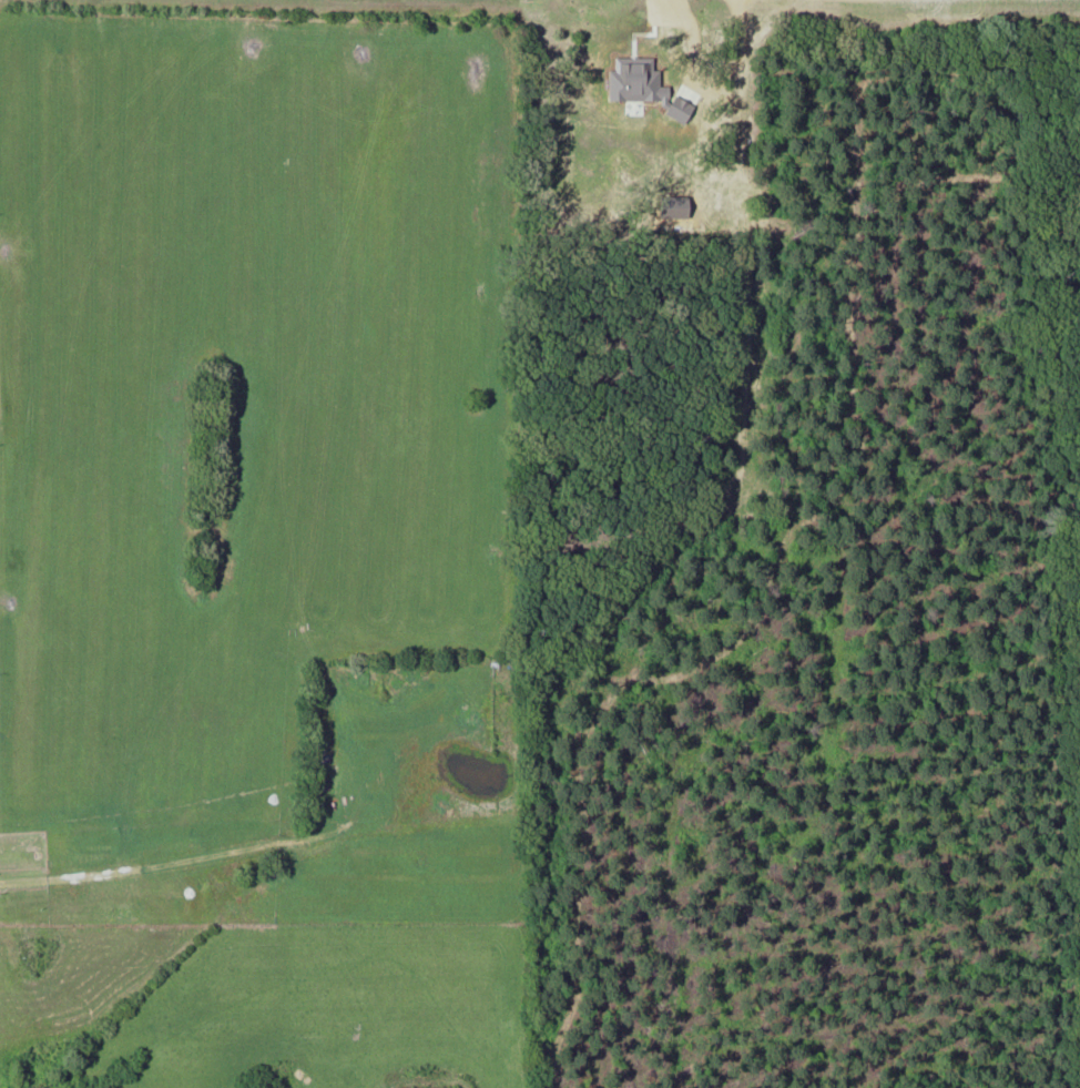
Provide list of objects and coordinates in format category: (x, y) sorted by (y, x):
road: (7, 729)

